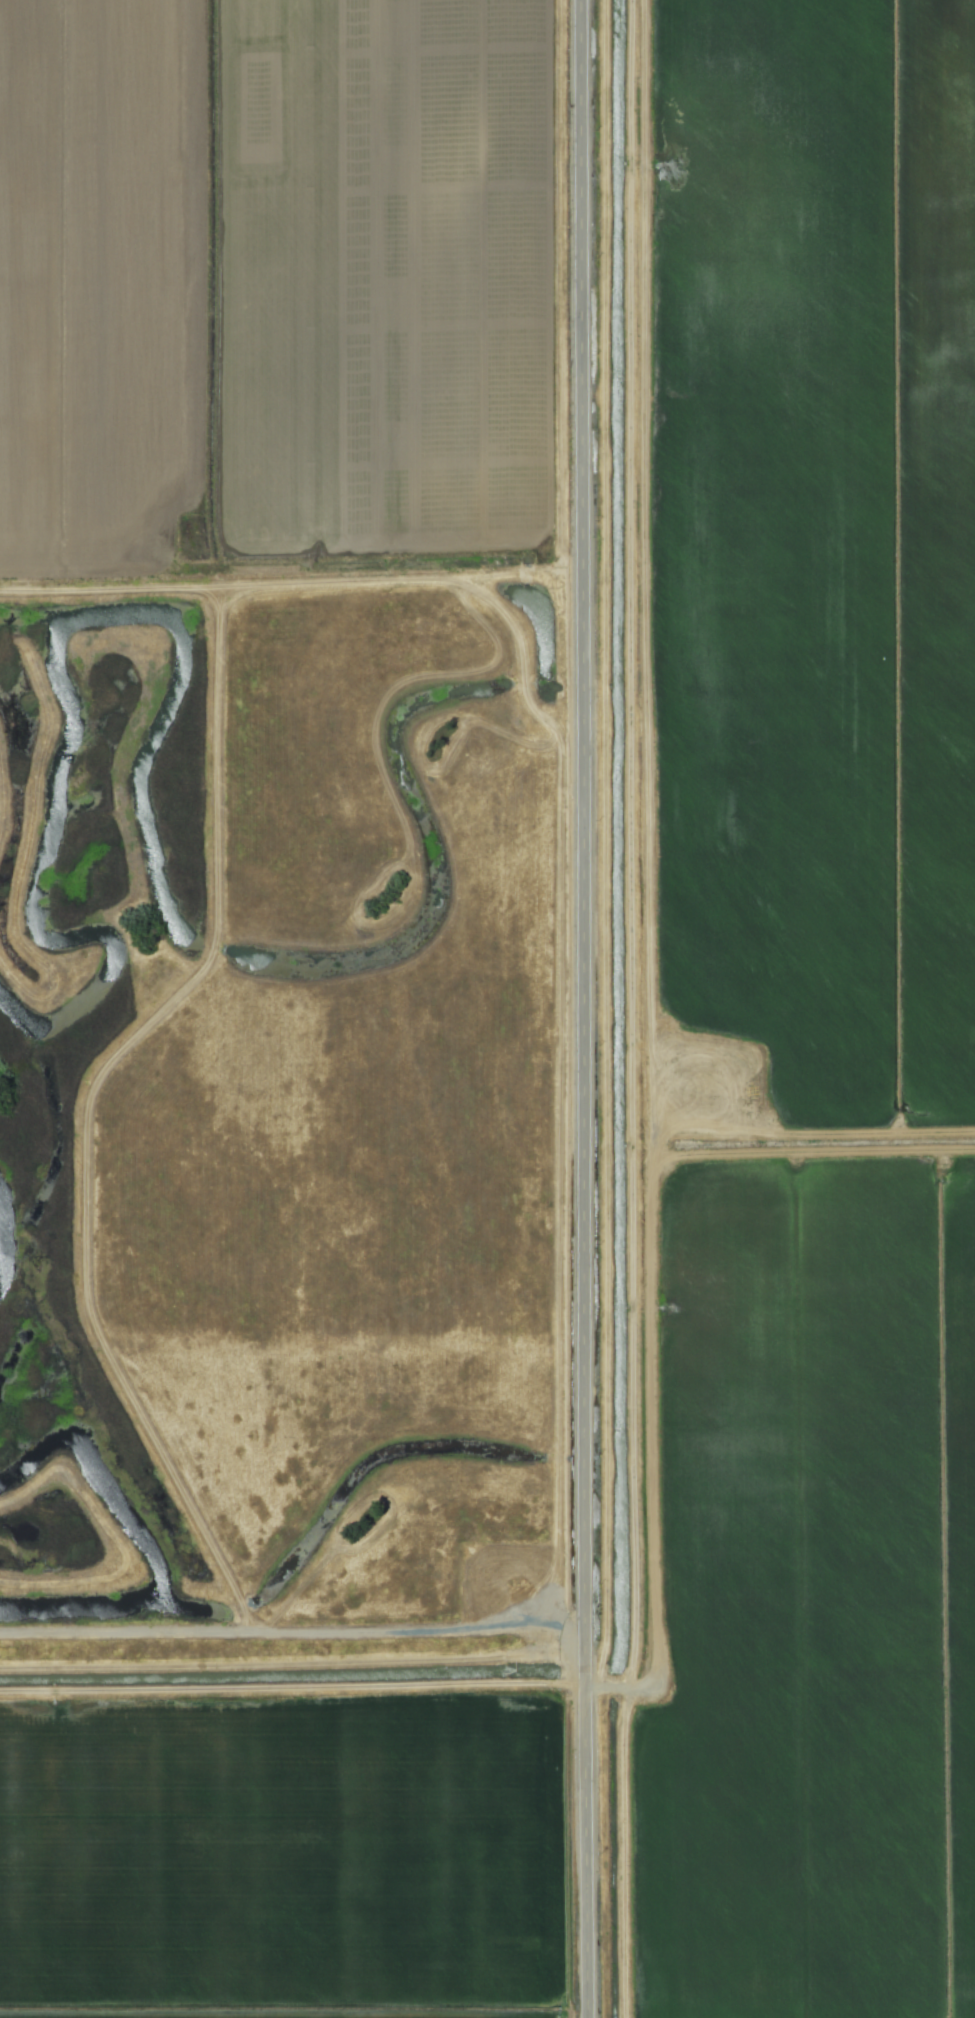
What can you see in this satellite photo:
road: (582, 1009)

